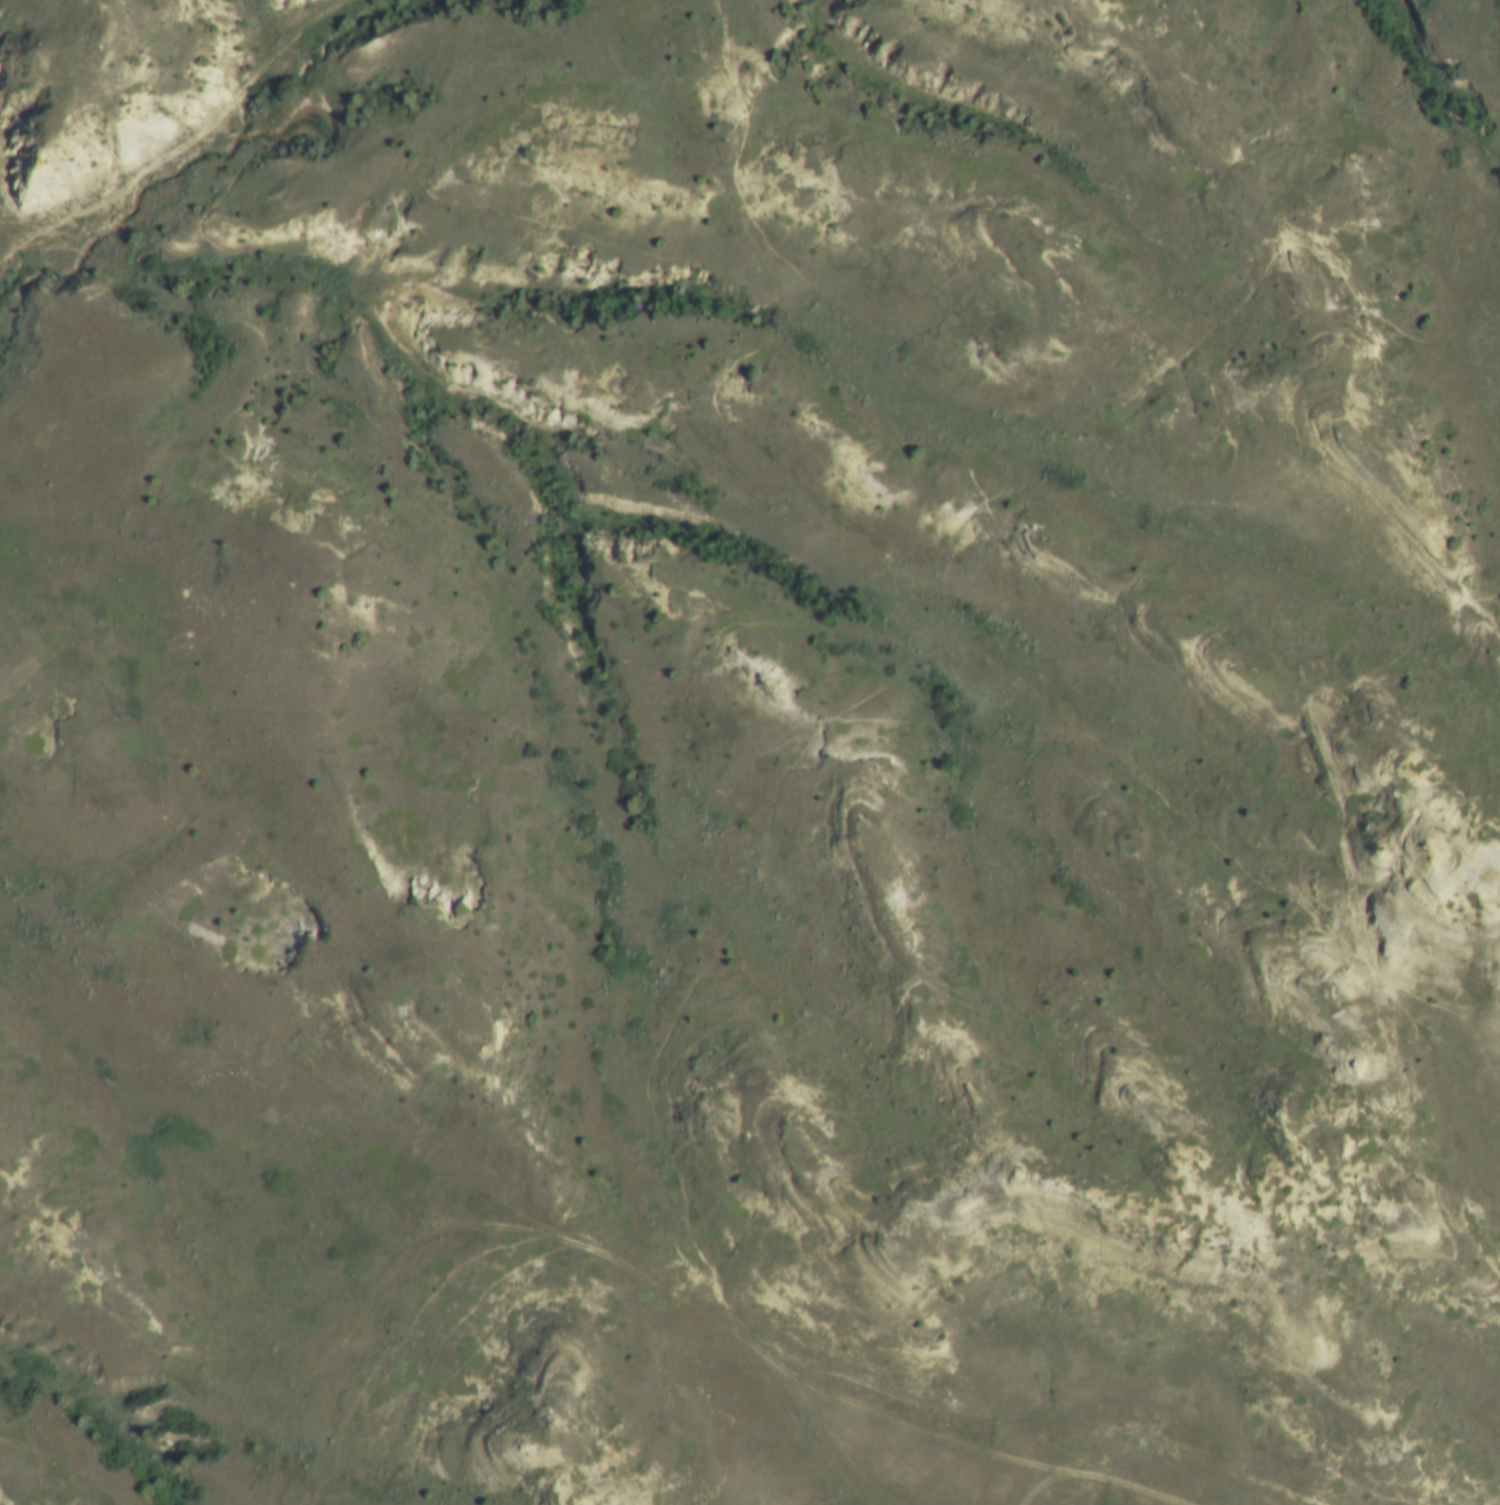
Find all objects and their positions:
road: (1103, 1476)

